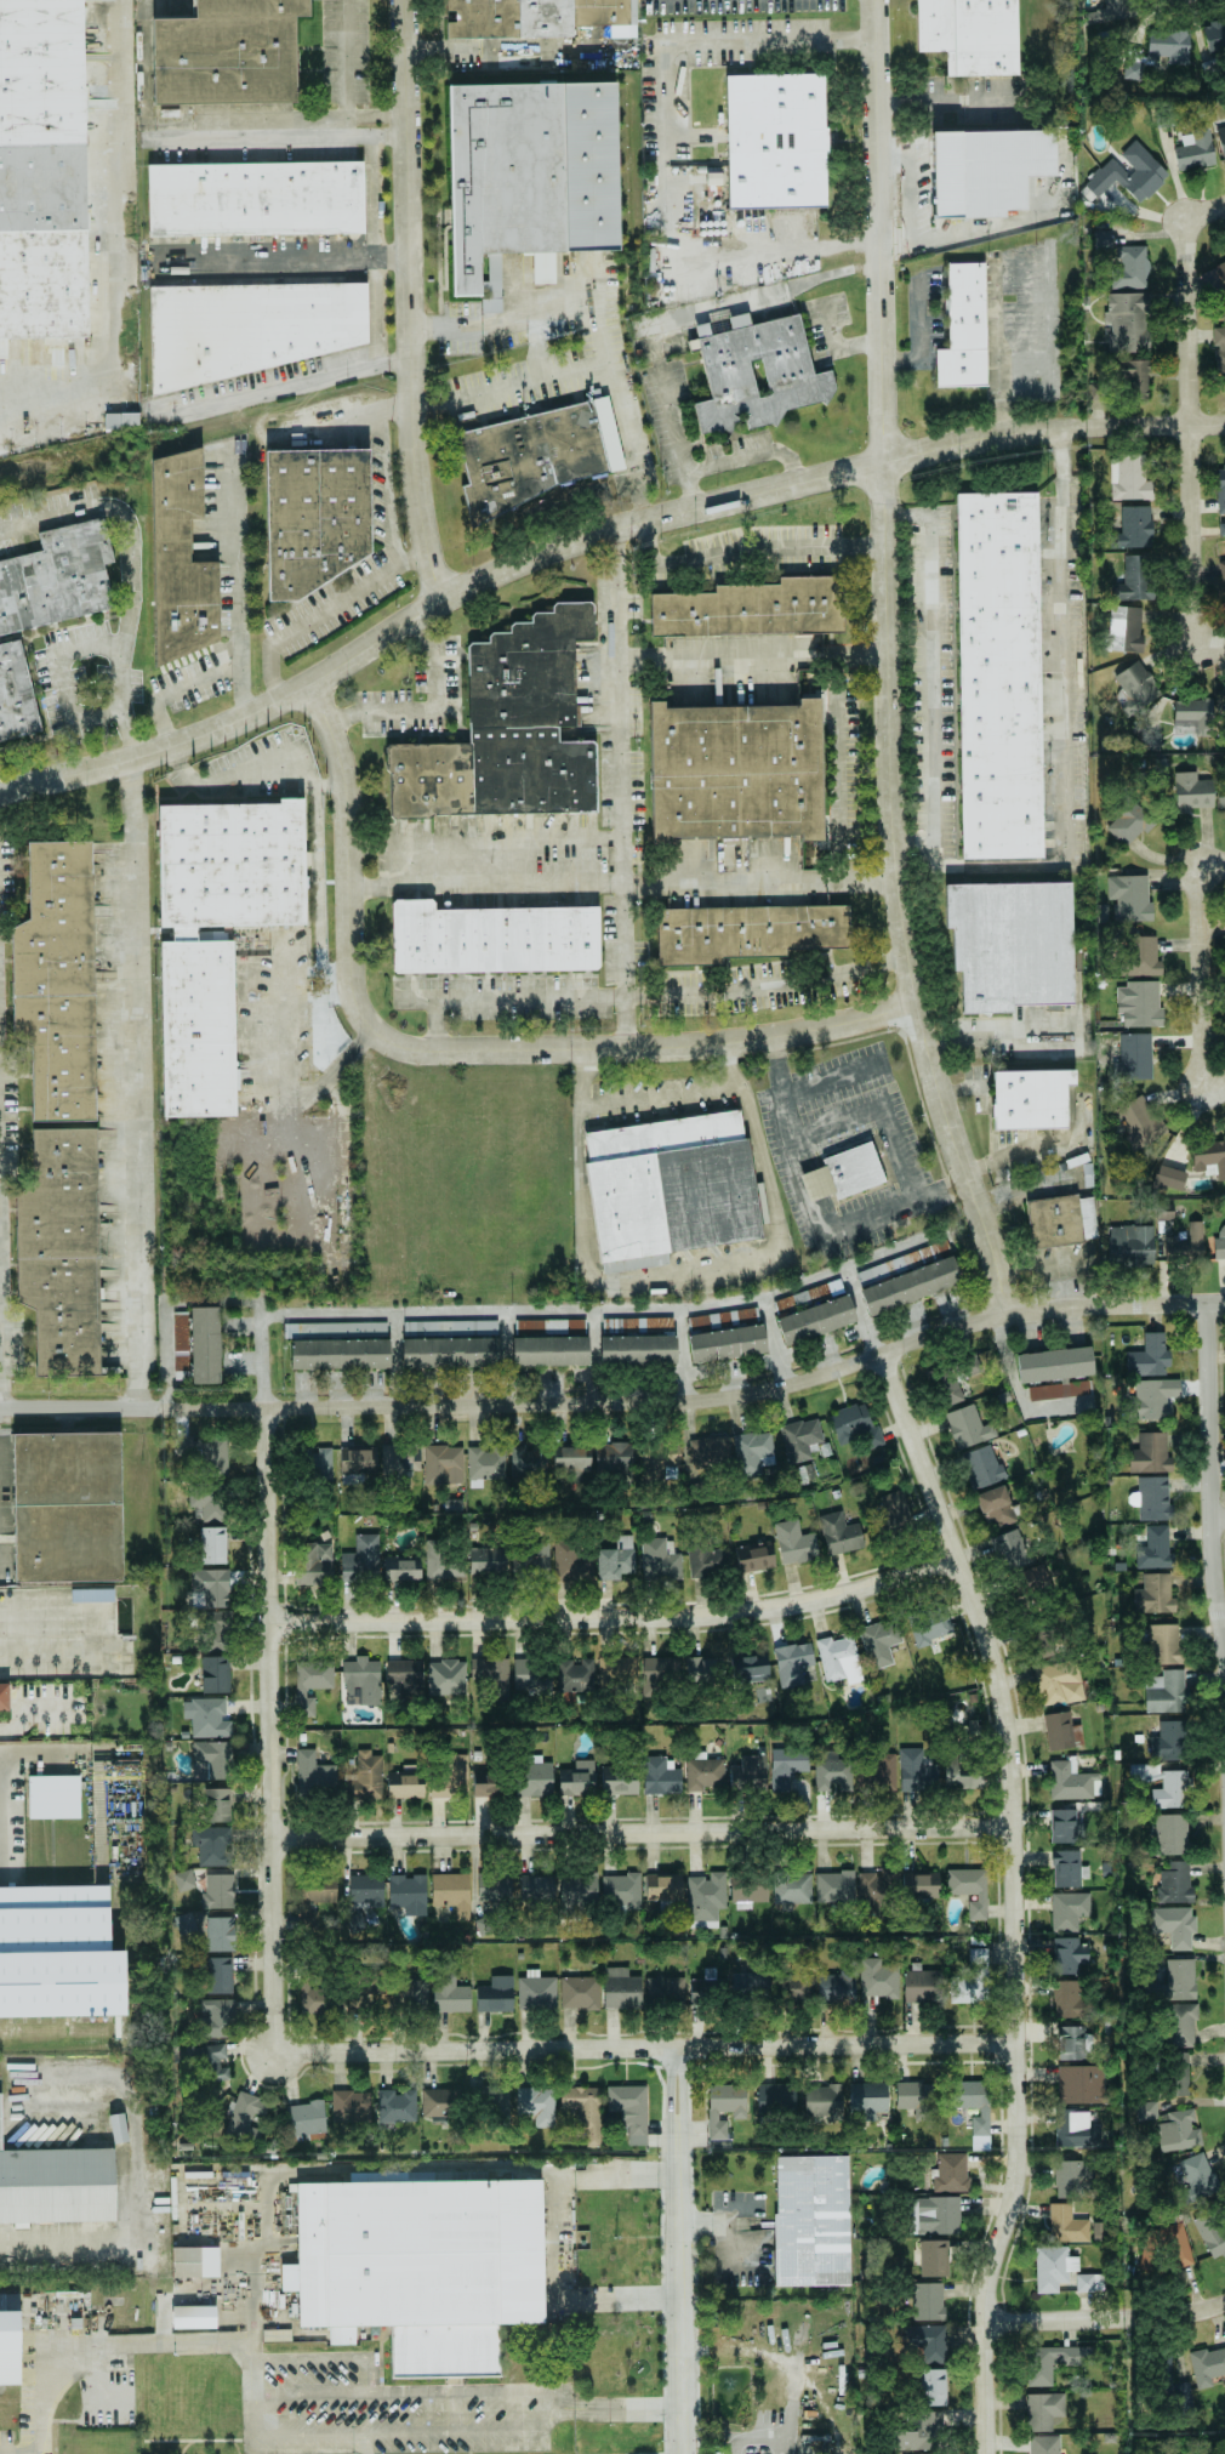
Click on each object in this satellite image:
building: (1110, 11)
building: (534, 17)
building: (969, 35)
building: (1214, 35)
building: (1168, 45)
road: (509, 50)
building: (228, 52)
road: (346, 58)
road: (662, 63)
building: (1133, 64)
building: (1166, 118)
road: (279, 119)
building: (1221, 140)
building: (775, 143)
building: (1195, 150)
building: (55, 169)
building: (985, 171)
building: (1130, 172)
building: (501, 176)
road: (907, 186)
building: (253, 201)
road: (1208, 211)
road: (990, 227)
building: (1102, 240)
road: (898, 245)
road: (114, 247)
road: (274, 258)
building: (1129, 266)
building: (1215, 278)
road: (405, 301)
road: (371, 309)
road: (677, 317)
road: (484, 321)
building: (1127, 321)
building: (961, 329)
building: (245, 330)
road: (918, 331)
road: (836, 347)
building: (1219, 354)
road: (606, 370)
building: (1140, 378)
building: (798, 381)
road: (286, 383)
road: (351, 419)
building: (121, 420)
road: (1192, 434)
road: (746, 452)
building: (526, 459)
building: (1132, 477)
road: (377, 488)
building: (1220, 489)
building: (312, 517)
building: (1134, 528)
building: (1221, 528)
road: (589, 537)
building: (178, 562)
building: (1221, 570)
building: (56, 577)
building: (1134, 579)
road: (234, 597)
road: (325, 609)
building: (751, 609)
building: (1124, 628)
road: (1212, 650)
road: (757, 653)
road: (893, 662)
road: (930, 674)
road: (58, 677)
building: (993, 679)
road: (623, 684)
building: (1134, 688)
road: (170, 690)
building: (1224, 694)
building: (15, 695)
road: (428, 707)
building: (1195, 714)
road: (1062, 719)
building: (506, 731)
road: (261, 761)
road: (847, 762)
building: (735, 770)
road: (347, 780)
building: (1191, 792)
building: (1128, 822)
road: (490, 839)
road: (1212, 864)
building: (229, 866)
road: (626, 879)
road: (131, 898)
building: (1129, 898)
building: (743, 932)
building: (489, 938)
building: (1004, 946)
building: (1141, 956)
road: (1201, 975)
building: (56, 983)
road: (648, 996)
building: (1139, 1003)
building: (194, 1029)
road: (999, 1029)
road: (571, 1049)
building: (1134, 1057)
road: (340, 1061)
road: (266, 1080)
road: (1214, 1087)
road: (657, 1098)
building: (1032, 1099)
road: (878, 1108)
building: (1139, 1121)
building: (1209, 1156)
building: (842, 1174)
building: (1172, 1177)
building: (668, 1186)
road: (814, 1209)
building: (1164, 1211)
building: (1053, 1223)
building: (1219, 1242)
building: (1130, 1245)
building: (1186, 1245)
building: (59, 1253)
road: (1060, 1257)
road: (680, 1277)
building: (910, 1286)
building: (808, 1297)
road: (160, 1306)
road: (606, 1309)
road: (857, 1316)
building: (181, 1320)
building: (723, 1320)
building: (816, 1320)
building: (451, 1326)
building: (336, 1327)
building: (727, 1343)
road: (770, 1343)
building: (205, 1345)
building: (549, 1350)
building: (637, 1350)
building: (450, 1351)
building: (340, 1354)
road: (679, 1354)
building: (1149, 1355)
road: (505, 1357)
road: (591, 1357)
road: (392, 1360)
building: (1054, 1363)
building: (1059, 1390)
building: (950, 1393)
building: (1153, 1397)
road: (619, 1403)
building: (854, 1424)
building: (968, 1427)
building: (799, 1437)
building: (708, 1451)
building: (752, 1452)
building: (204, 1453)
building: (1150, 1453)
building: (612, 1457)
building: (571, 1458)
building: (320, 1459)
building: (528, 1461)
building: (357, 1464)
building: (444, 1464)
building: (485, 1464)
building: (398, 1467)
building: (980, 1467)
building: (1153, 1498)
building: (209, 1499)
building: (63, 1507)
building: (995, 1507)
building: (890, 1508)
road: (1206, 1515)
road: (1215, 1519)
building: (839, 1533)
building: (794, 1543)
building: (212, 1544)
building: (1155, 1549)
building: (1009, 1550)
building: (756, 1556)
building: (535, 1559)
building: (616, 1559)
building: (314, 1560)
building: (360, 1560)
building: (486, 1560)
building: (659, 1560)
building: (441, 1561)
building: (571, 1561)
building: (707, 1561)
building: (401, 1568)
building: (1153, 1594)
road: (616, 1618)
building: (930, 1625)
building: (878, 1641)
building: (1038, 1642)
building: (1164, 1644)
road: (51, 1657)
building: (839, 1658)
building: (792, 1663)
building: (700, 1667)
building: (750, 1667)
building: (661, 1668)
building: (616, 1670)
building: (405, 1674)
building: (531, 1674)
building: (577, 1674)
building: (212, 1675)
road: (264, 1675)
building: (492, 1676)
building: (446, 1678)
building: (361, 1681)
building: (310, 1683)
building: (1059, 1683)
building: (1167, 1692)
building: (2, 1698)
road: (28, 1714)
building: (206, 1716)
building: (1061, 1733)
building: (1169, 1741)
road: (56, 1755)
building: (212, 1756)
building: (787, 1765)
building: (916, 1770)
building: (748, 1771)
building: (832, 1771)
building: (876, 1771)
building: (705, 1772)
building: (367, 1773)
building: (314, 1775)
building: (660, 1775)
building: (961, 1775)
building: (576, 1778)
building: (1070, 1781)
building: (404, 1784)
building: (489, 1784)
building: (1172, 1789)
building: (53, 1797)
building: (216, 1805)
road: (11, 1807)
building: (1065, 1824)
road: (642, 1832)
building: (1172, 1833)
building: (215, 1846)
building: (1067, 1868)
building: (184, 1879)
building: (1175, 1880)
building: (919, 1884)
building: (968, 1884)
building: (494, 1886)
building: (877, 1886)
building: (792, 1888)
building: (834, 1888)
building: (537, 1889)
building: (580, 1889)
building: (663, 1889)
building: (748, 1889)
building: (218, 1890)
building: (318, 1890)
building: (365, 1890)
building: (621, 1890)
building: (451, 1892)
building: (408, 1894)
road: (1018, 1894)
building: (1069, 1909)
building: (184, 1923)
building: (1174, 1925)
building: (220, 1934)
building: (1069, 1954)
building: (58, 1958)
building: (218, 1975)
building: (877, 1978)
building: (972, 1978)
building: (1172, 1980)
building: (750, 1981)
building: (837, 1986)
building: (922, 1986)
building: (621, 1988)
building: (796, 1988)
building: (414, 1991)
building: (536, 1992)
building: (579, 1992)
building: (449, 1993)
building: (674, 1993)
building: (495, 1994)
building: (1067, 1999)
building: (217, 2019)
building: (1180, 2023)
building: (1072, 2043)
road: (645, 2048)
building: (213, 2051)
building: (1179, 2076)
building: (1081, 2084)
building: (580, 2096)
building: (867, 2099)
building: (915, 2099)
building: (799, 2100)
building: (441, 2101)
building: (536, 2105)
building: (351, 2106)
building: (395, 2106)
building: (724, 2107)
building: (974, 2108)
building: (629, 2111)
building: (306, 2118)
building: (589, 2126)
building: (1170, 2126)
building: (1076, 2130)
road: (138, 2131)
building: (951, 2173)
building: (1197, 2176)
building: (1075, 2177)
building: (55, 2188)
building: (938, 2215)
building: (805, 2224)
building: (1066, 2225)
building: (1210, 2233)
road: (559, 2236)
road: (53, 2242)
building: (1167, 2243)
road: (683, 2250)
road: (247, 2253)
building: (933, 2257)
building: (194, 2261)
building: (421, 2264)
building: (1053, 2267)
building: (1089, 2282)
building: (927, 2300)
building: (193, 2317)
road: (1107, 2319)
building: (923, 2336)
building: (8, 2341)
road: (326, 2358)
building: (1054, 2361)
building: (1208, 2364)
building: (931, 2386)
road: (471, 2392)
road: (249, 2401)
building: (1042, 2410)
building: (923, 2432)
building: (1043, 2444)
building: (935, 2453)

